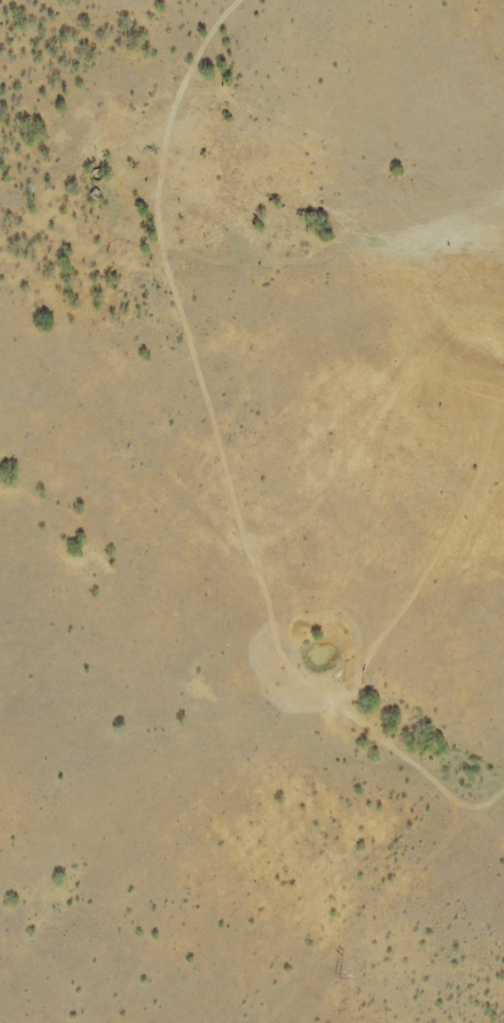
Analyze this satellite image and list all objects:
road: (448, 774)
power tower: (337, 977)

